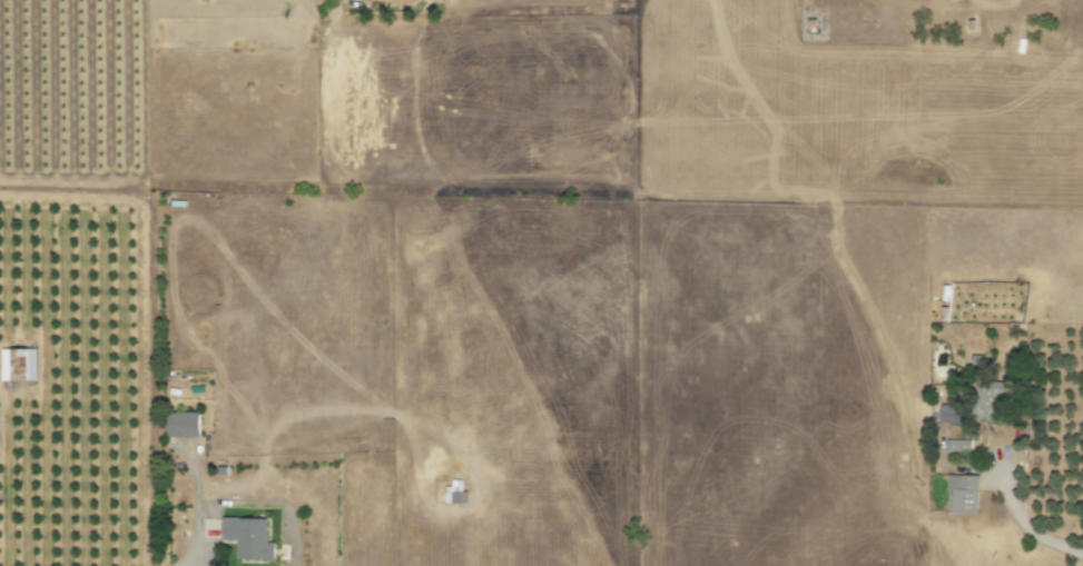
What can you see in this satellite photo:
road: (157, 347)
building: (17, 365)
building: (986, 401)
building: (946, 415)
building: (180, 425)
building: (956, 447)
building: (453, 493)
building: (961, 494)
building: (246, 538)

